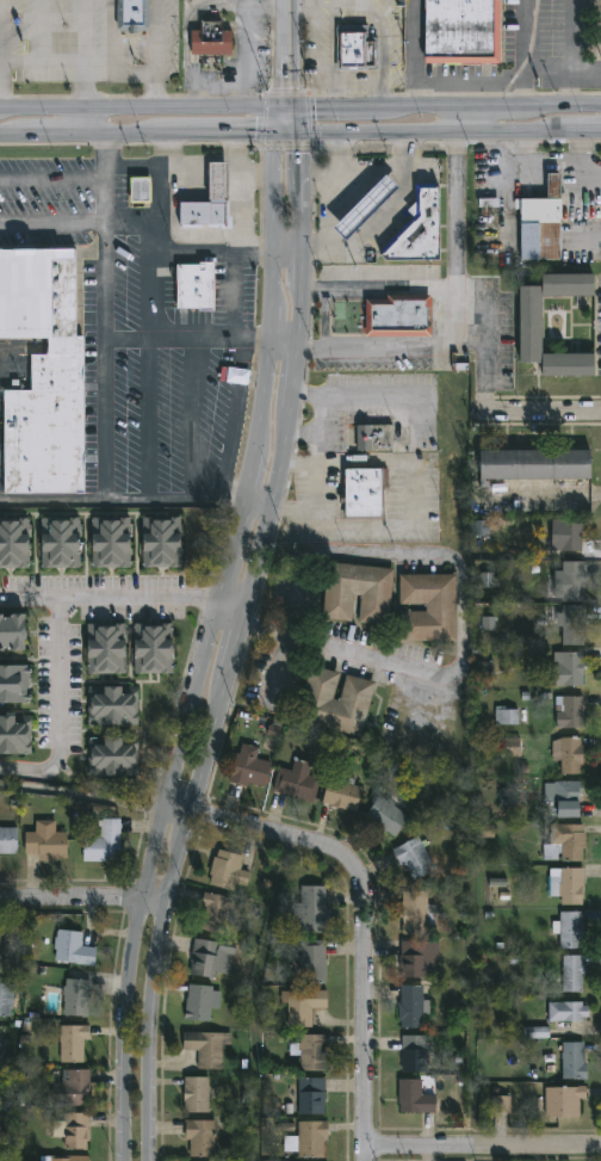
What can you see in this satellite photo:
road: (212, 1)
road: (308, 2)
road: (187, 11)
building: (135, 16)
road: (41, 32)
road: (83, 32)
building: (466, 32)
road: (385, 33)
road: (111, 35)
road: (156, 36)
parking lot: (52, 41)
building: (212, 44)
building: (358, 49)
road: (285, 55)
road: (416, 55)
road: (521, 55)
road: (568, 55)
road: (1, 57)
road: (247, 57)
road: (332, 57)
road: (79, 66)
road: (119, 70)
road: (217, 84)
road: (156, 93)
traffic signals: (285, 112)
road: (299, 112)
road: (300, 137)
traffic signals: (272, 138)
traffic signals: (297, 138)
building: (221, 180)
road: (51, 181)
parking lot: (47, 189)
building: (140, 190)
building: (370, 205)
gas station: (370, 205)
road: (454, 205)
building: (545, 223)
building: (423, 228)
road: (370, 229)
road: (131, 230)
gas station: (420, 234)
road: (210, 255)
parking lot: (125, 260)
parking lot: (380, 273)
building: (569, 284)
building: (198, 285)
road: (378, 286)
road: (235, 299)
road: (104, 308)
road: (446, 310)
building: (399, 317)
building: (531, 323)
parking lot: (492, 336)
road: (200, 342)
road: (398, 350)
building: (569, 364)
parking lot: (376, 365)
building: (42, 371)
road: (363, 397)
road: (538, 412)
road: (322, 416)
parking lot: (176, 419)
road: (151, 422)
road: (196, 422)
building: (376, 438)
building: (534, 462)
road: (250, 465)
road: (315, 471)
building: (366, 492)
road: (120, 504)
road: (398, 527)
building: (477, 527)
building: (574, 536)
building: (163, 541)
building: (62, 542)
building: (112, 542)
building: (16, 543)
building: (483, 580)
building: (575, 580)
building: (359, 593)
road: (25, 594)
building: (430, 607)
road: (229, 612)
road: (51, 623)
building: (488, 623)
building: (575, 624)
building: (13, 632)
road: (236, 637)
building: (107, 648)
building: (155, 648)
road: (341, 649)
building: (565, 668)
building: (485, 669)
building: (16, 684)
building: (340, 703)
building: (113, 705)
building: (570, 711)
building: (507, 716)
building: (17, 735)
building: (510, 747)
building: (570, 754)
building: (114, 756)
building: (250, 767)
building: (298, 782)
building: (343, 793)
building: (566, 797)
road: (178, 807)
road: (154, 810)
building: (388, 815)
building: (485, 832)
building: (8, 841)
building: (48, 841)
building: (105, 842)
building: (566, 842)
building: (415, 858)
building: (229, 871)
building: (568, 884)
road: (82, 897)
building: (315, 908)
building: (215, 913)
building: (417, 913)
road: (364, 926)
building: (570, 930)
building: (74, 949)
building: (210, 958)
building: (415, 959)
building: (314, 961)
building: (574, 972)
road: (125, 984)
building: (78, 998)
building: (6, 1000)
building: (202, 1002)
building: (304, 1006)
building: (414, 1007)
building: (570, 1012)
building: (535, 1032)
building: (0, 1039)
building: (73, 1043)
building: (207, 1048)
building: (1, 1050)
building: (312, 1052)
building: (416, 1054)
building: (575, 1062)
building: (72, 1088)
building: (198, 1095)
building: (314, 1097)
building: (417, 1097)
building: (565, 1100)
building: (501, 1104)
building: (74, 1131)
building: (310, 1137)
building: (202, 1138)
park: (6, 1142)
road: (483, 1144)
building: (70, 1159)

